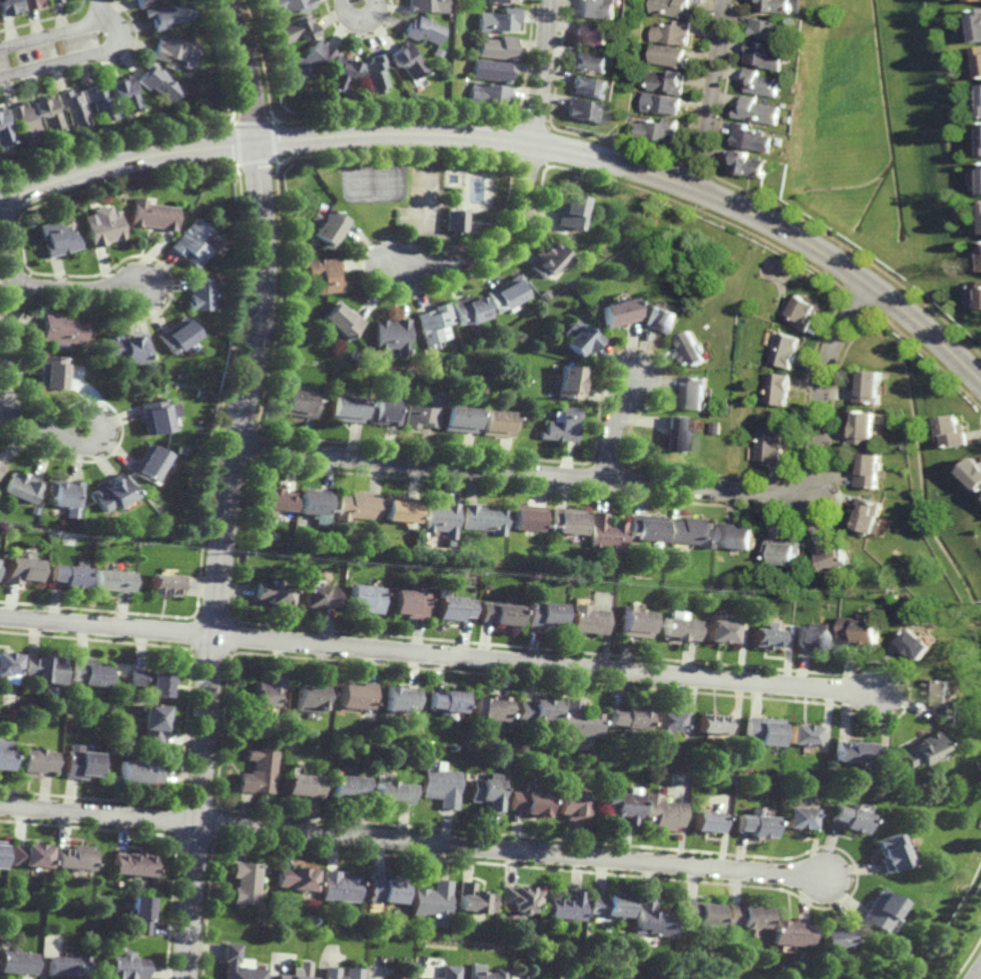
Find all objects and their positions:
building: (55, 1)
building: (973, 1)
building: (500, 2)
building: (34, 3)
building: (145, 3)
building: (290, 5)
building: (426, 6)
building: (779, 6)
building: (10, 7)
building: (598, 8)
building: (674, 8)
road: (106, 9)
building: (171, 15)
road: (358, 16)
building: (499, 20)
building: (975, 26)
building: (296, 29)
building: (423, 30)
building: (772, 31)
building: (673, 33)
road: (119, 34)
building: (593, 35)
building: (499, 48)
building: (178, 49)
building: (436, 52)
building: (669, 56)
building: (766, 57)
building: (312, 58)
building: (406, 60)
building: (590, 62)
building: (978, 62)
building: (492, 70)
road: (544, 72)
building: (340, 73)
building: (375, 73)
building: (668, 82)
building: (161, 83)
building: (763, 83)
building: (590, 87)
building: (128, 94)
building: (489, 94)
road: (712, 94)
building: (980, 98)
building: (103, 102)
building: (661, 104)
building: (76, 107)
building: (583, 111)
building: (760, 111)
building: (51, 114)
building: (28, 123)
building: (6, 128)
building: (657, 129)
building: (752, 138)
road: (519, 143)
building: (750, 165)
building: (567, 212)
building: (152, 216)
building: (454, 222)
building: (104, 228)
building: (328, 228)
building: (58, 239)
building: (193, 243)
road: (496, 243)
building: (546, 261)
building: (321, 276)
road: (77, 286)
building: (505, 294)
building: (198, 295)
building: (544, 296)
building: (468, 311)
building: (804, 313)
building: (615, 314)
building: (339, 319)
building: (661, 319)
building: (431, 324)
building: (62, 331)
building: (175, 335)
building: (389, 335)
road: (7, 337)
building: (579, 338)
building: (409, 343)
building: (124, 346)
building: (692, 346)
building: (787, 348)
building: (408, 351)
building: (350, 354)
building: (51, 371)
building: (568, 379)
building: (870, 385)
building: (779, 388)
building: (695, 391)
building: (295, 402)
building: (343, 407)
building: (382, 409)
building: (422, 409)
building: (459, 416)
building: (151, 417)
building: (496, 420)
building: (562, 424)
road: (616, 427)
building: (865, 427)
building: (955, 429)
road: (101, 431)
building: (678, 431)
building: (769, 444)
building: (904, 448)
building: (146, 463)
building: (1, 467)
building: (870, 470)
building: (974, 470)
road: (627, 482)
road: (225, 486)
building: (22, 487)
building: (65, 493)
building: (111, 493)
building: (274, 501)
building: (315, 504)
building: (358, 505)
building: (403, 507)
building: (444, 517)
building: (530, 517)
building: (487, 518)
building: (870, 518)
building: (571, 520)
building: (648, 527)
building: (691, 531)
building: (608, 532)
building: (739, 536)
building: (783, 551)
building: (835, 559)
building: (875, 566)
building: (22, 569)
building: (69, 575)
building: (111, 580)
building: (161, 584)
building: (272, 592)
building: (317, 596)
building: (362, 598)
building: (409, 603)
building: (452, 607)
building: (498, 613)
building: (543, 613)
building: (588, 619)
building: (634, 622)
building: (681, 629)
building: (862, 629)
building: (719, 630)
building: (815, 637)
building: (765, 638)
building: (916, 644)
road: (438, 655)
building: (9, 667)
building: (45, 669)
building: (89, 673)
building: (151, 682)
building: (266, 690)
building: (355, 696)
building: (310, 697)
building: (400, 699)
building: (940, 699)
building: (445, 702)
building: (490, 708)
building: (536, 710)
building: (579, 719)
building: (627, 719)
building: (664, 721)
building: (151, 723)
building: (711, 723)
building: (762, 730)
building: (799, 736)
building: (920, 750)
building: (850, 752)
building: (3, 760)
building: (33, 763)
building: (79, 763)
building: (257, 772)
building: (137, 773)
building: (302, 786)
building: (440, 787)
building: (346, 788)
building: (392, 793)
building: (485, 793)
building: (528, 802)
building: (573, 805)
building: (620, 807)
building: (662, 814)
building: (796, 819)
building: (845, 819)
building: (707, 821)
building: (755, 825)
road: (413, 842)
building: (0, 851)
building: (886, 855)
building: (27, 857)
building: (72, 858)
building: (132, 865)
building: (293, 879)
building: (243, 883)
building: (338, 888)
building: (385, 890)
building: (520, 899)
building: (430, 900)
building: (471, 900)
building: (1, 903)
building: (611, 906)
building: (565, 907)
building: (882, 913)
building: (282, 914)
building: (701, 914)
building: (139, 916)
building: (746, 917)
building: (651, 919)
building: (51, 922)
building: (790, 934)
building: (831, 939)
building: (725, 940)
building: (723, 955)
building: (16, 961)
building: (63, 964)
building: (124, 965)
building: (236, 966)
building: (352, 970)
building: (449, 971)
building: (487, 974)
building: (289, 976)
road: (980, 977)

